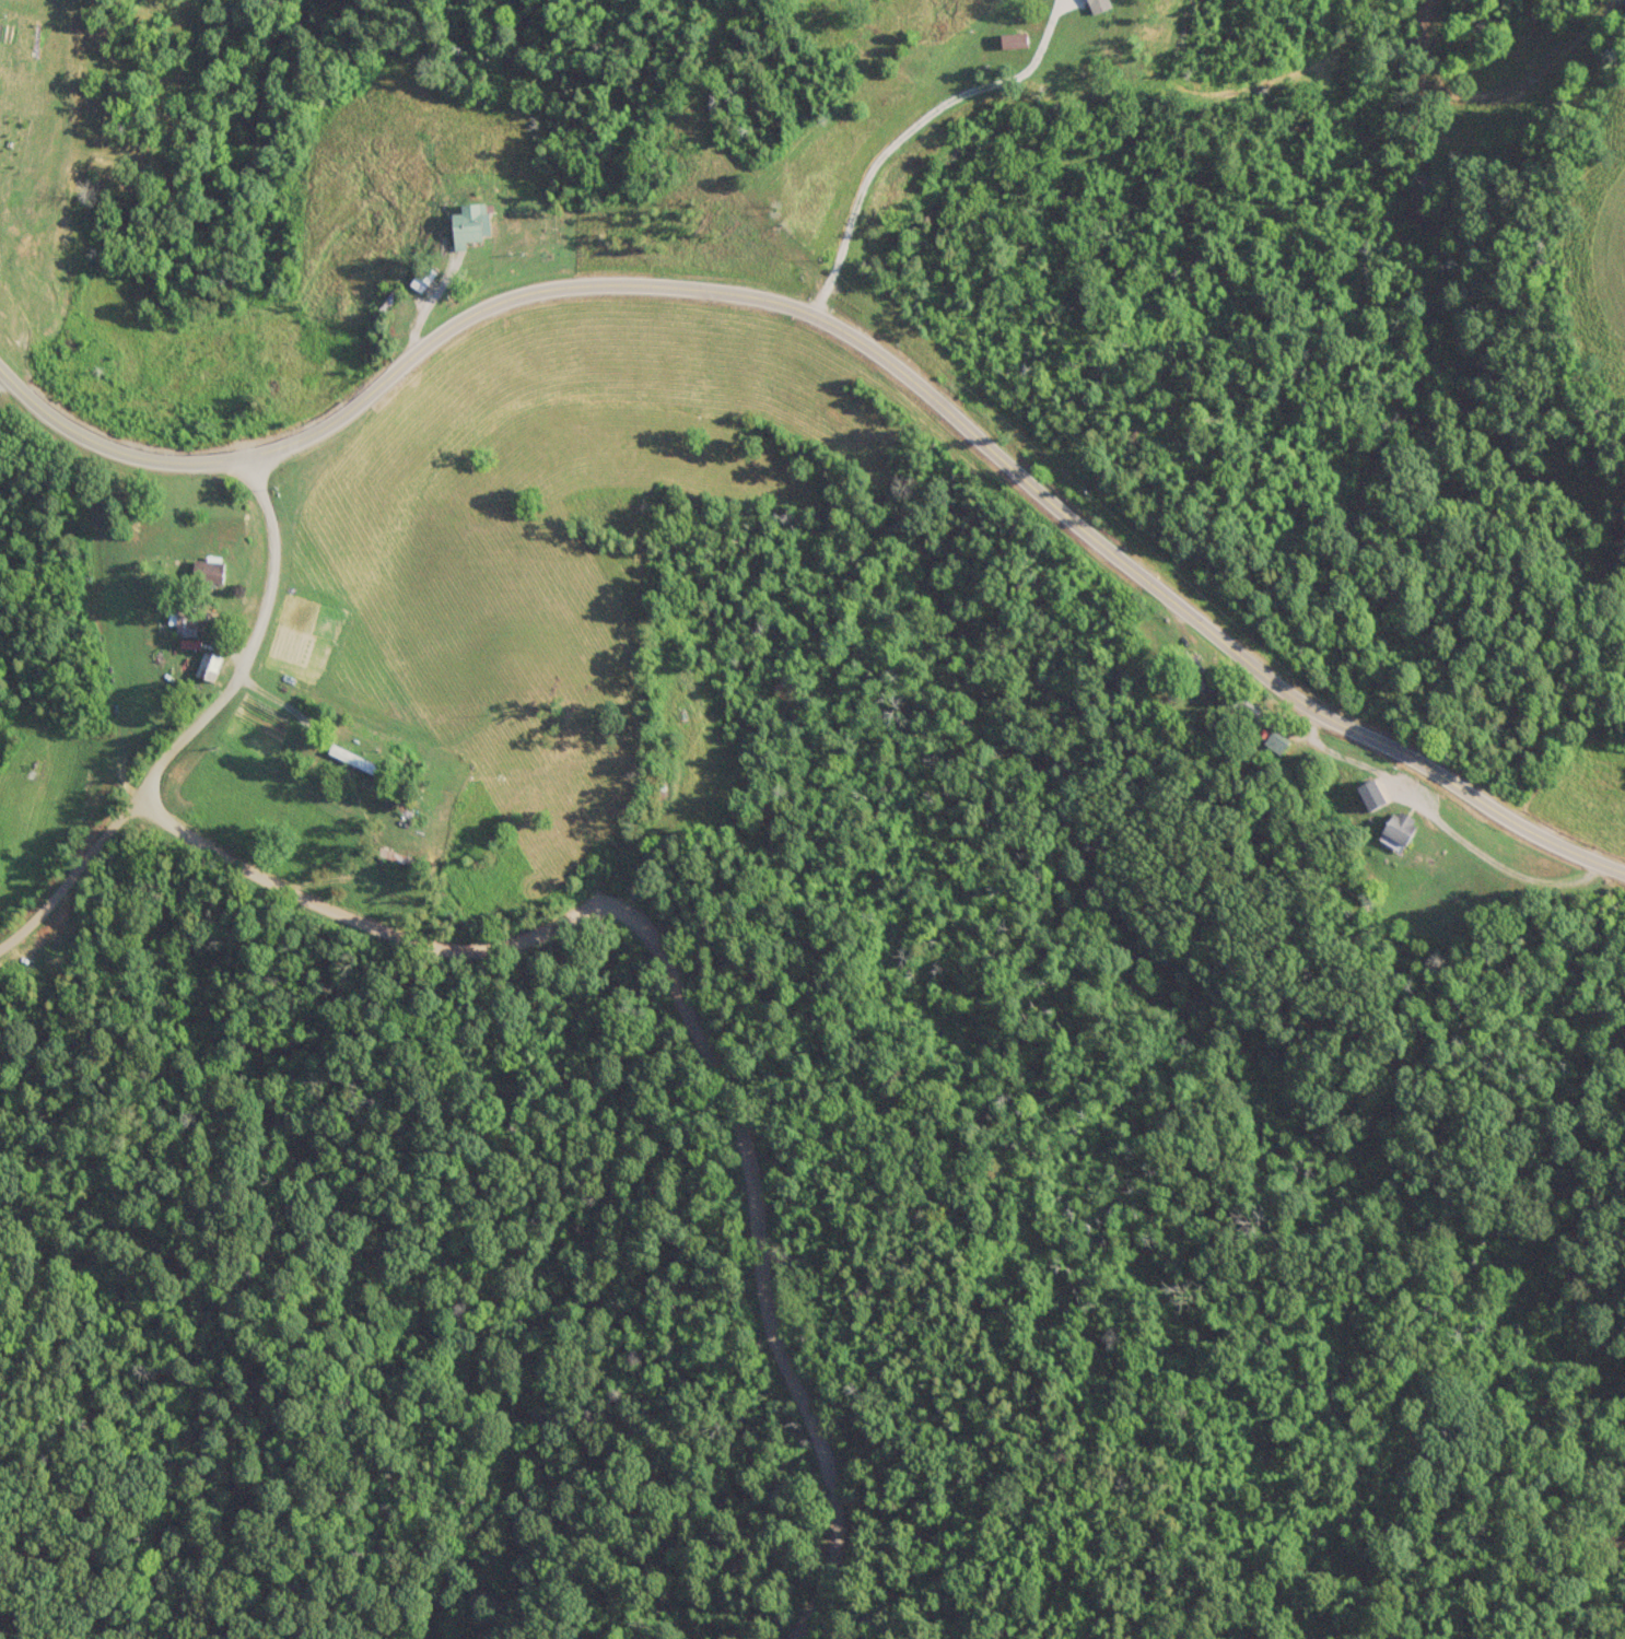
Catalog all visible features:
road: (902, 131)
building: (467, 224)
building: (419, 277)
building: (387, 301)
road: (851, 336)
building: (204, 571)
building: (184, 623)
building: (207, 665)
building: (1190, 674)
building: (1238, 711)
road: (192, 723)
building: (1274, 741)
building: (340, 773)
building: (1369, 793)
building: (1396, 828)
road: (1506, 867)
road: (349, 881)
road: (692, 1020)

